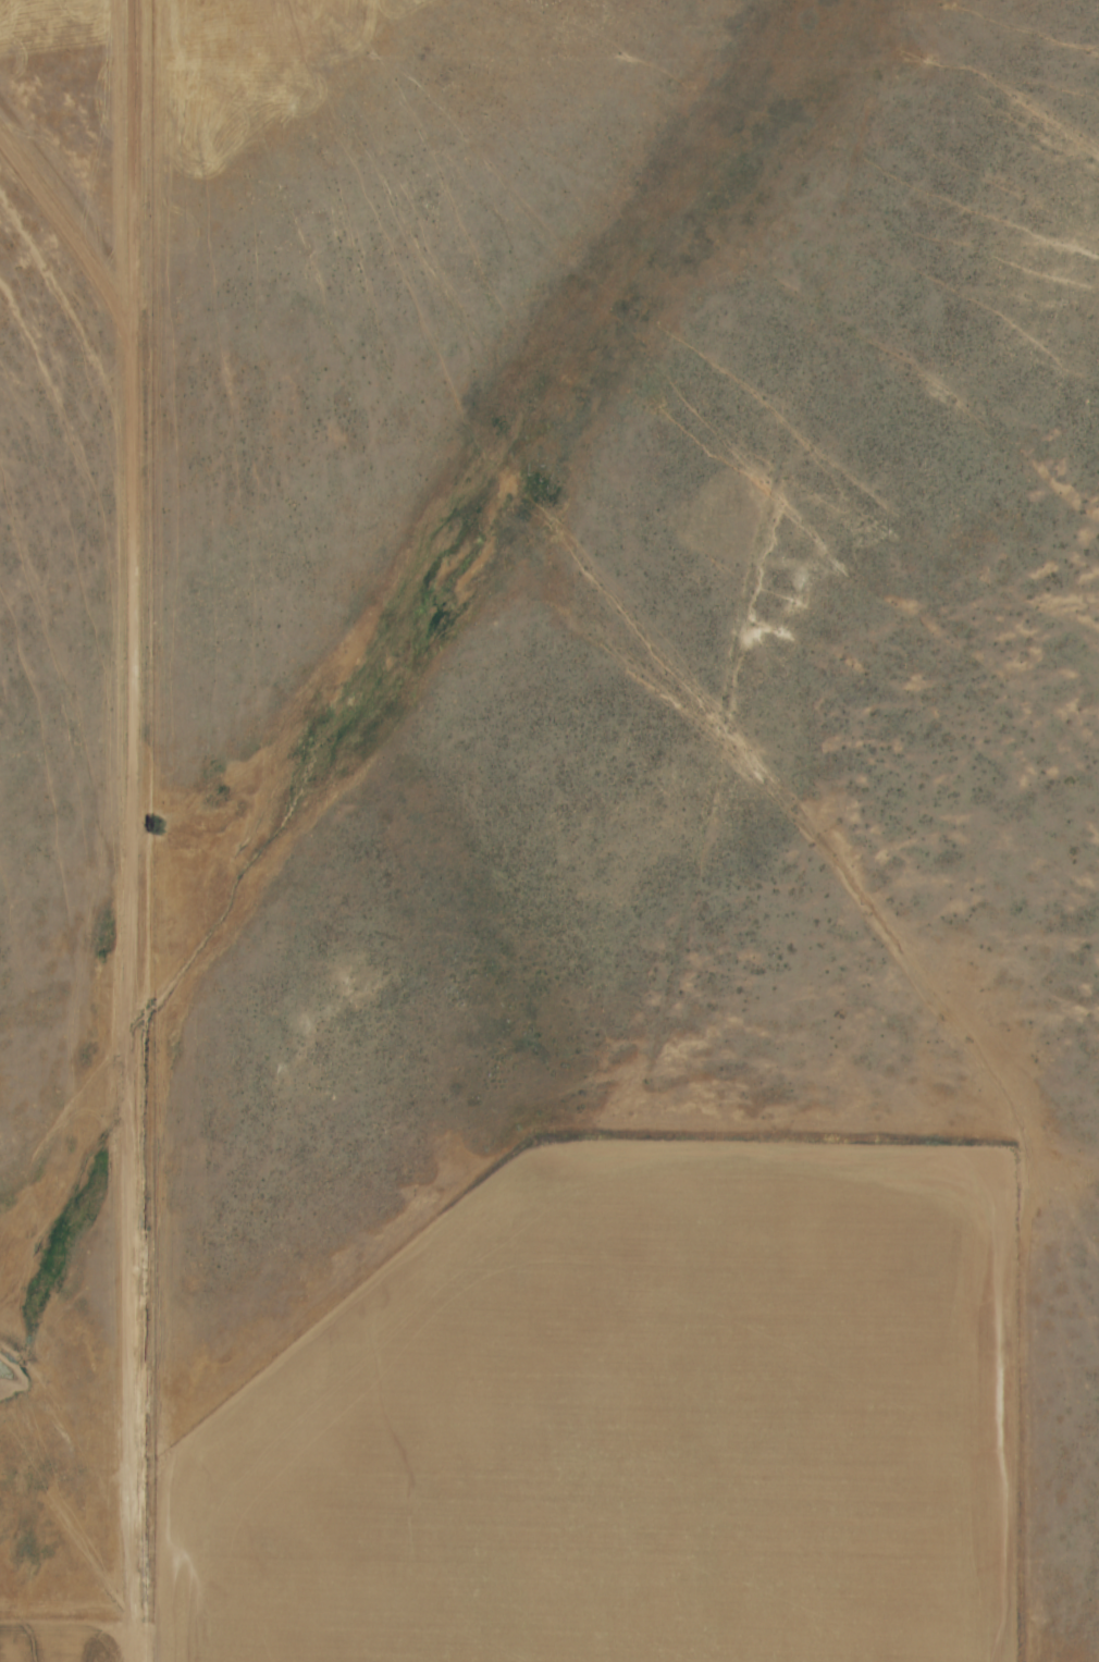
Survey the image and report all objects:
road: (103, 195)
road: (217, 830)

